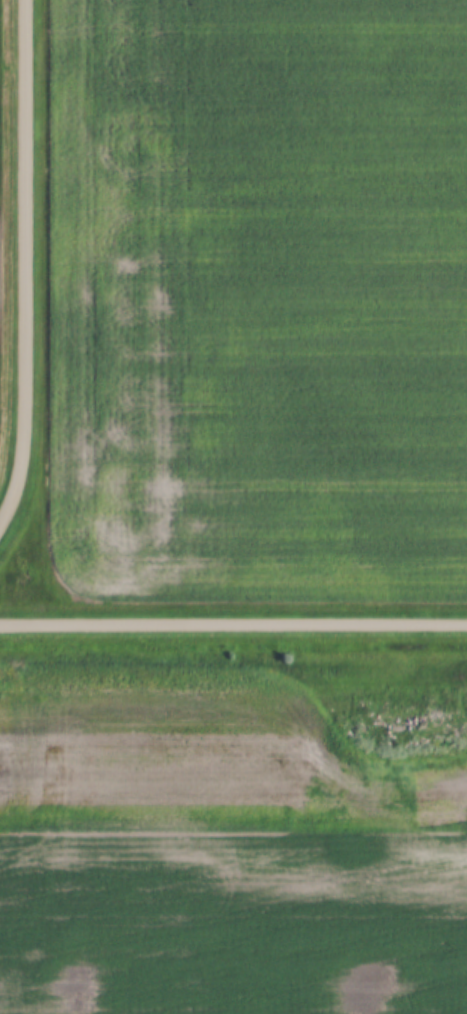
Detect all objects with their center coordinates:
road: (29, 271)
road: (233, 625)

